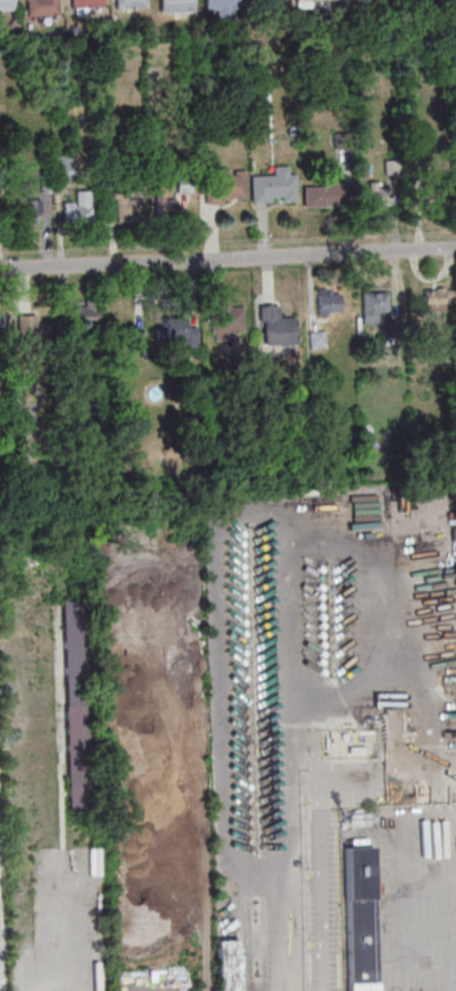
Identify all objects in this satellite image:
building: (354, 0)
building: (132, 3)
building: (306, 3)
building: (219, 4)
building: (6, 5)
building: (84, 5)
building: (174, 6)
building: (42, 7)
building: (221, 185)
building: (270, 185)
building: (381, 193)
building: (315, 196)
building: (438, 197)
building: (165, 207)
building: (76, 208)
building: (130, 209)
building: (27, 215)
road: (228, 259)
building: (437, 299)
building: (330, 301)
building: (376, 309)
building: (88, 314)
building: (226, 319)
building: (277, 327)
building: (33, 329)
building: (182, 331)
building: (0, 334)
building: (318, 339)
building: (75, 704)
building: (138, 742)
road: (321, 887)
building: (358, 919)
road: (440, 945)
building: (228, 965)

